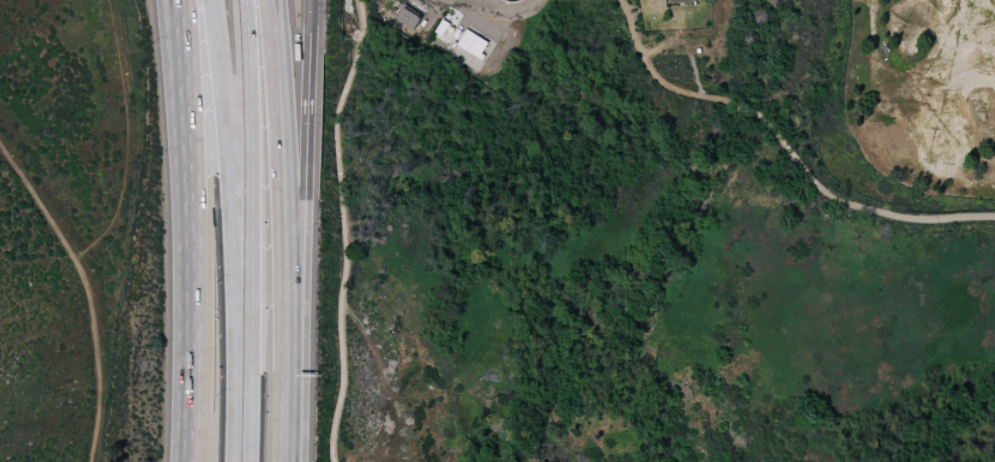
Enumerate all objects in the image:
building: (680, 1)
road: (662, 7)
road: (509, 9)
road: (179, 13)
road: (180, 13)
building: (408, 18)
building: (472, 44)
road: (685, 48)
park: (924, 92)
road: (129, 138)
road: (784, 145)
road: (288, 175)
road: (302, 176)
road: (341, 229)
road: (233, 230)
road: (253, 230)
road: (192, 243)
park: (643, 251)
road: (89, 290)
road: (292, 407)

